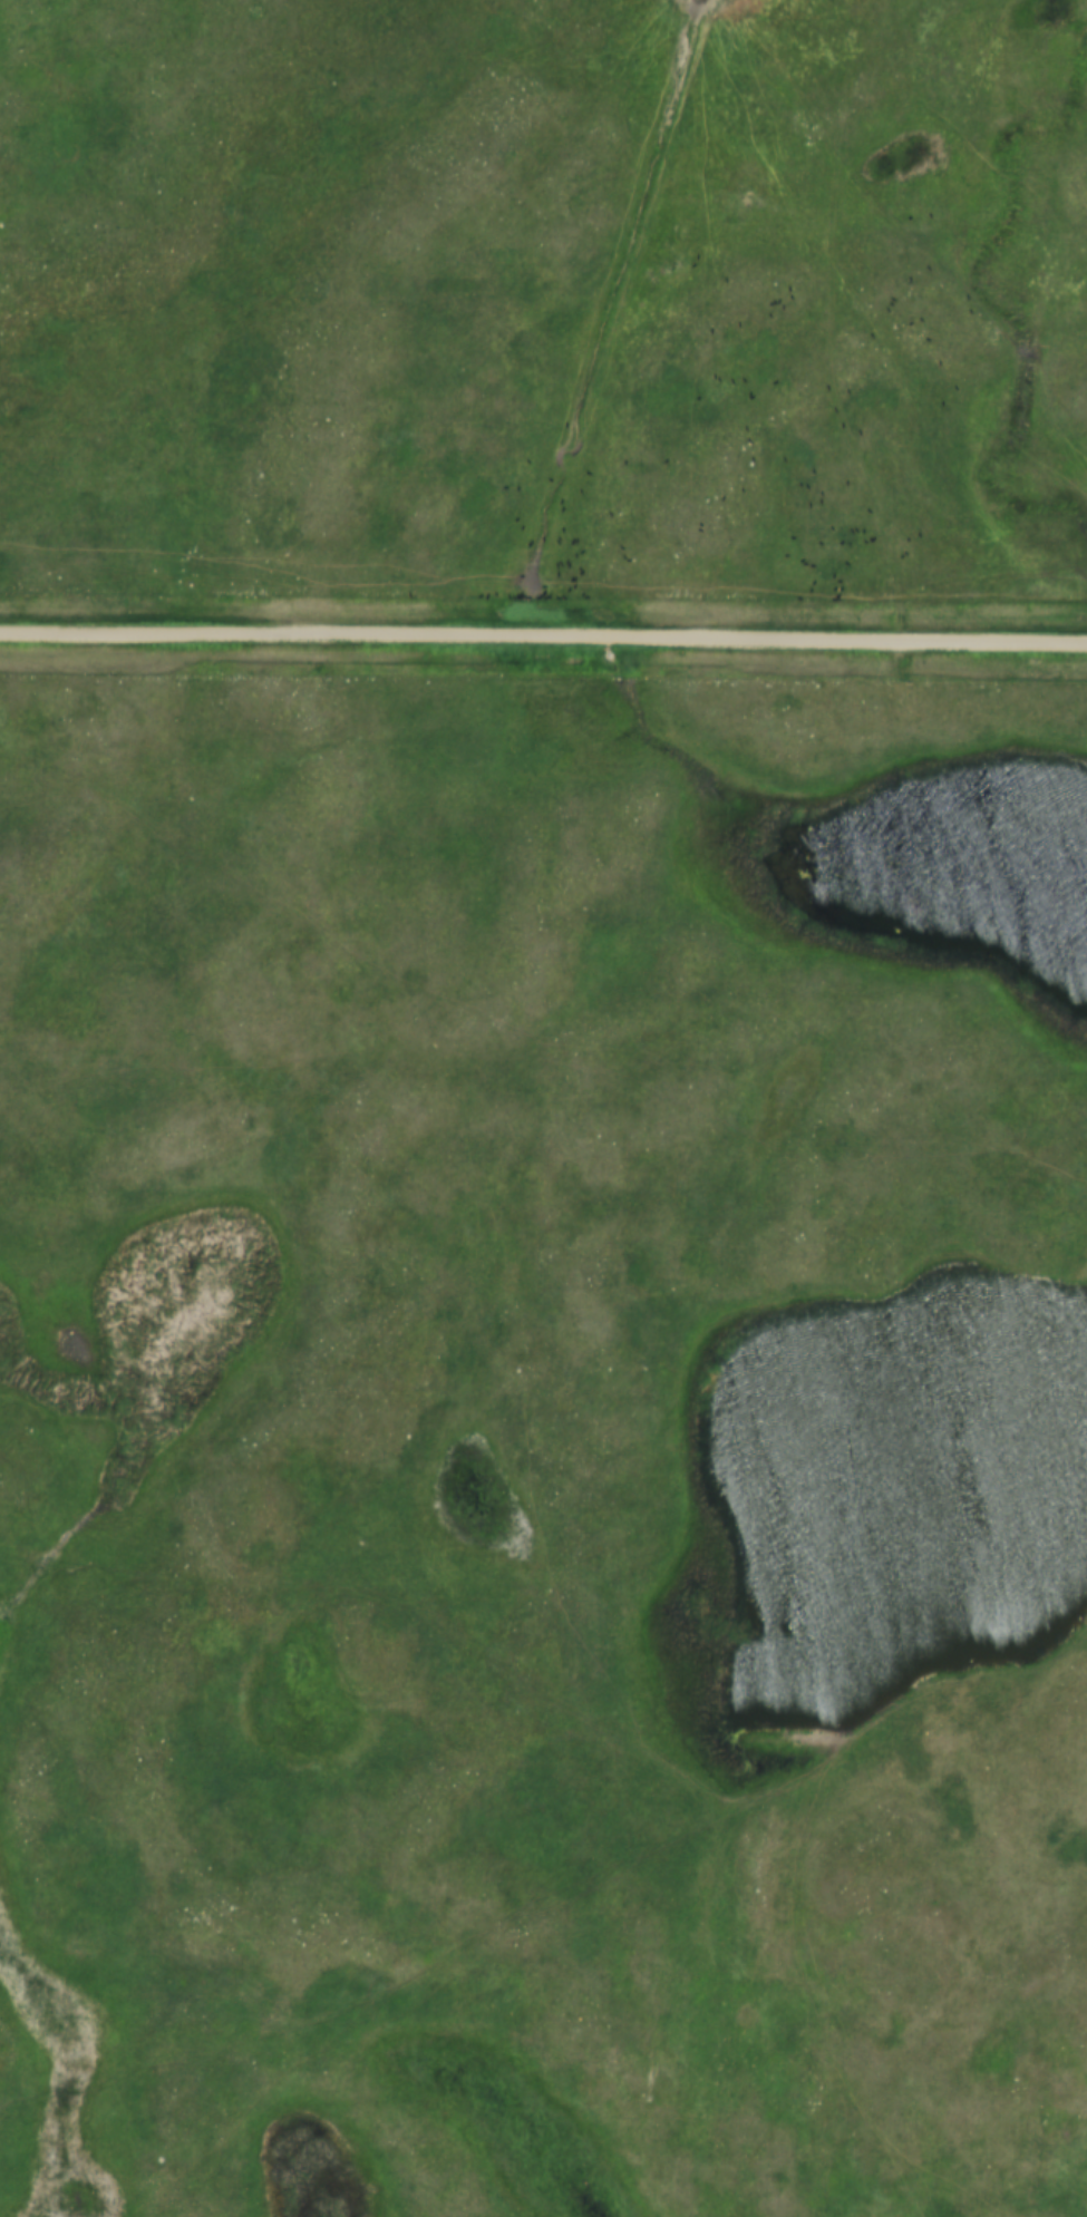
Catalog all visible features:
road: (543, 639)

